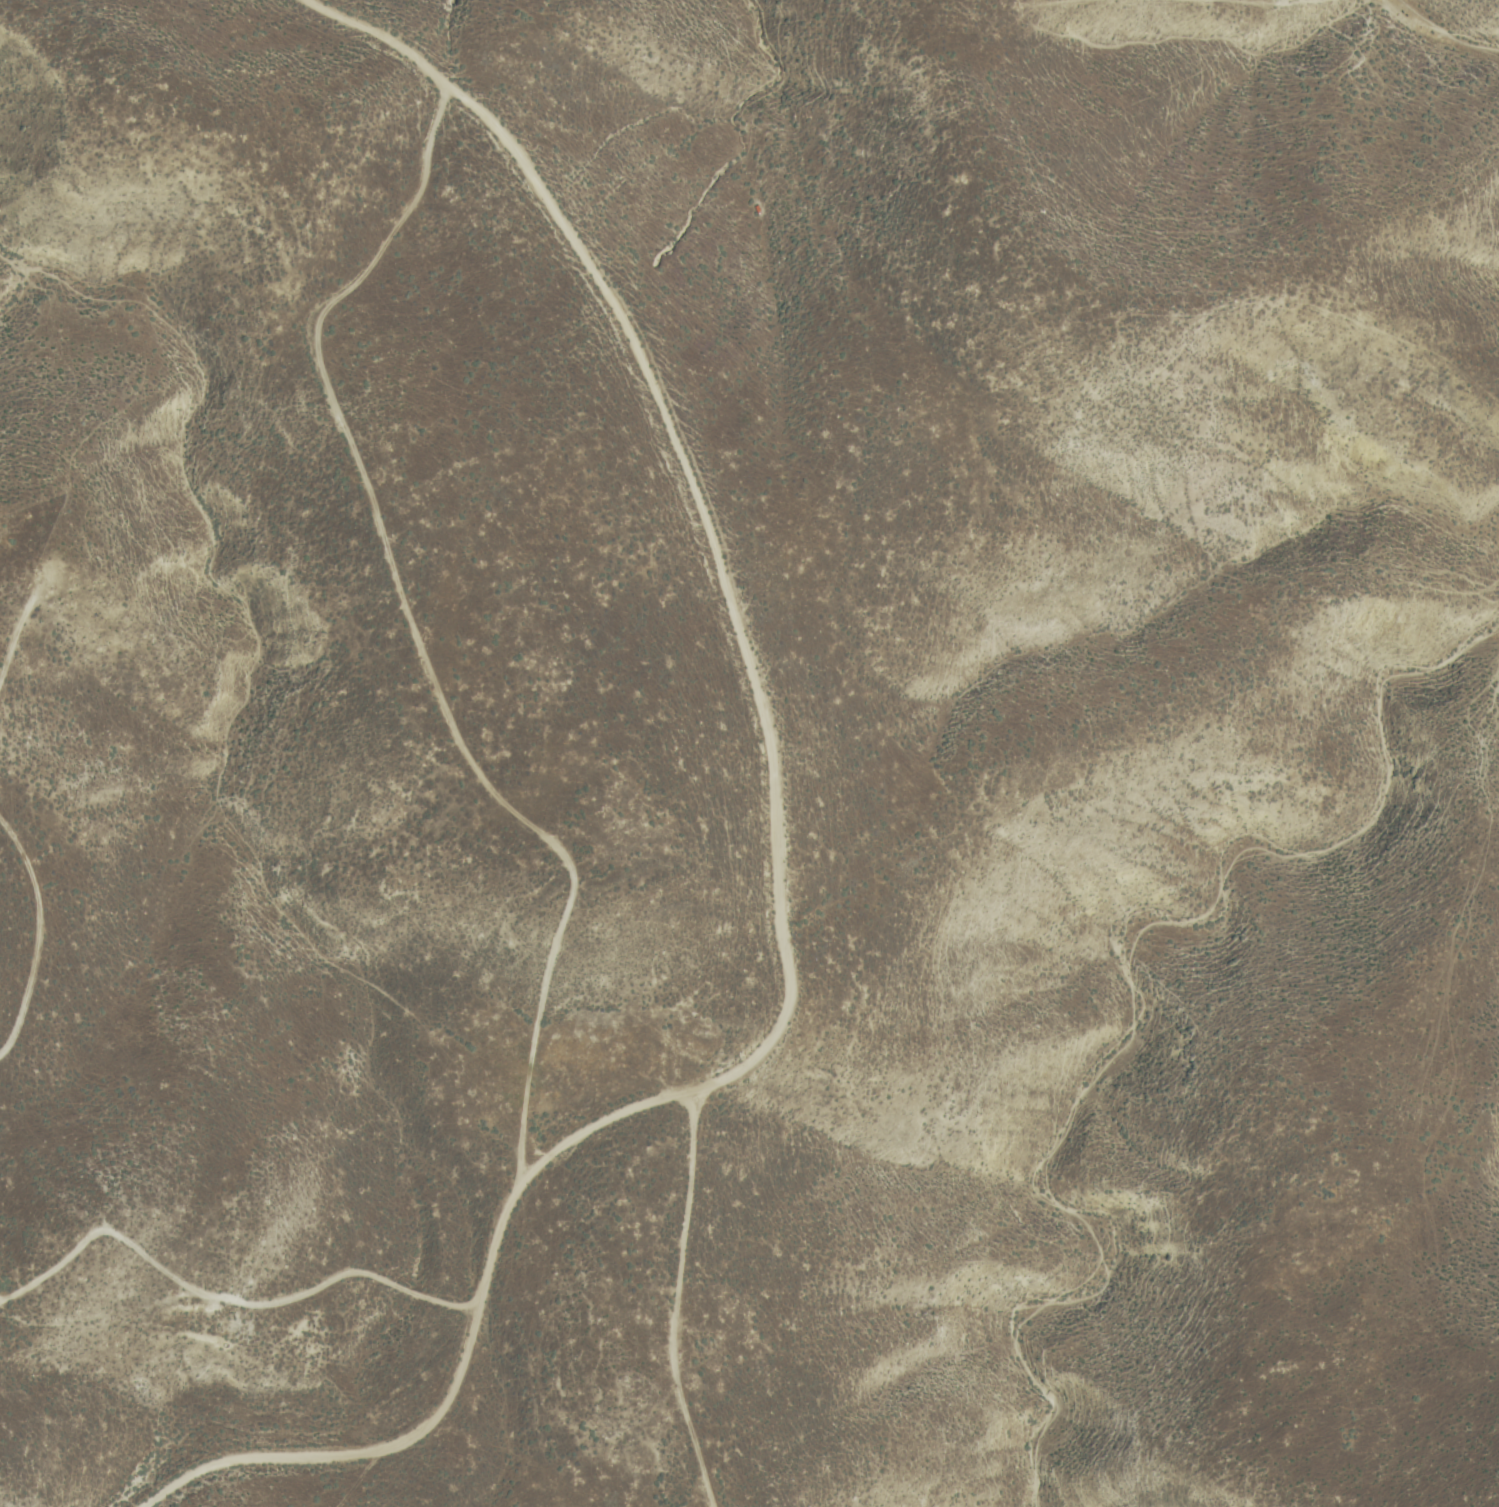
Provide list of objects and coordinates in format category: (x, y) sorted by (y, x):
road: (725, 575)
road: (222, 1297)
road: (679, 1301)
road: (426, 1426)

